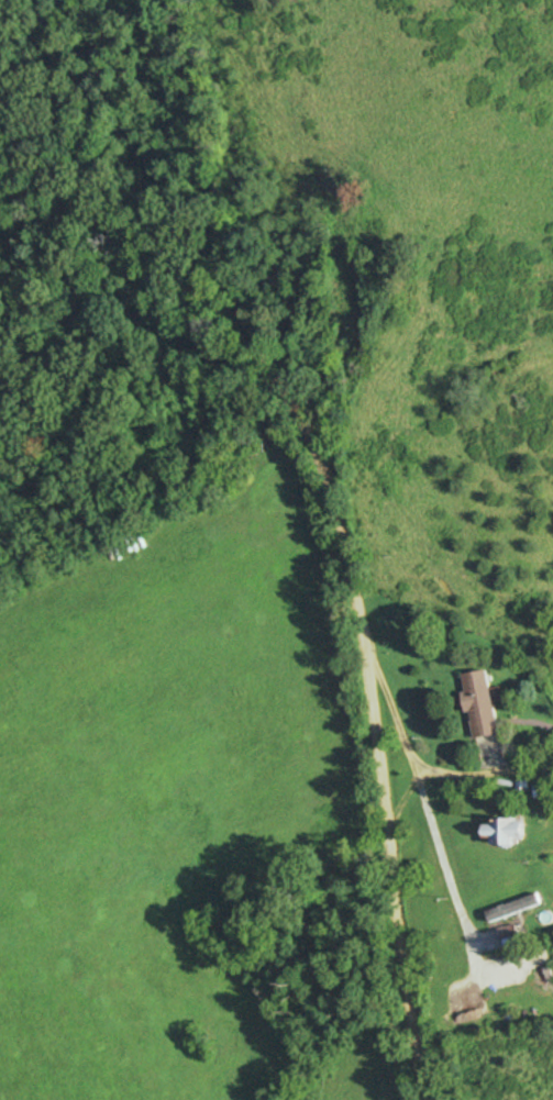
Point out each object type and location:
road: (346, 538)
building: (485, 705)
road: (410, 753)
building: (509, 832)
building: (515, 909)
building: (544, 976)

